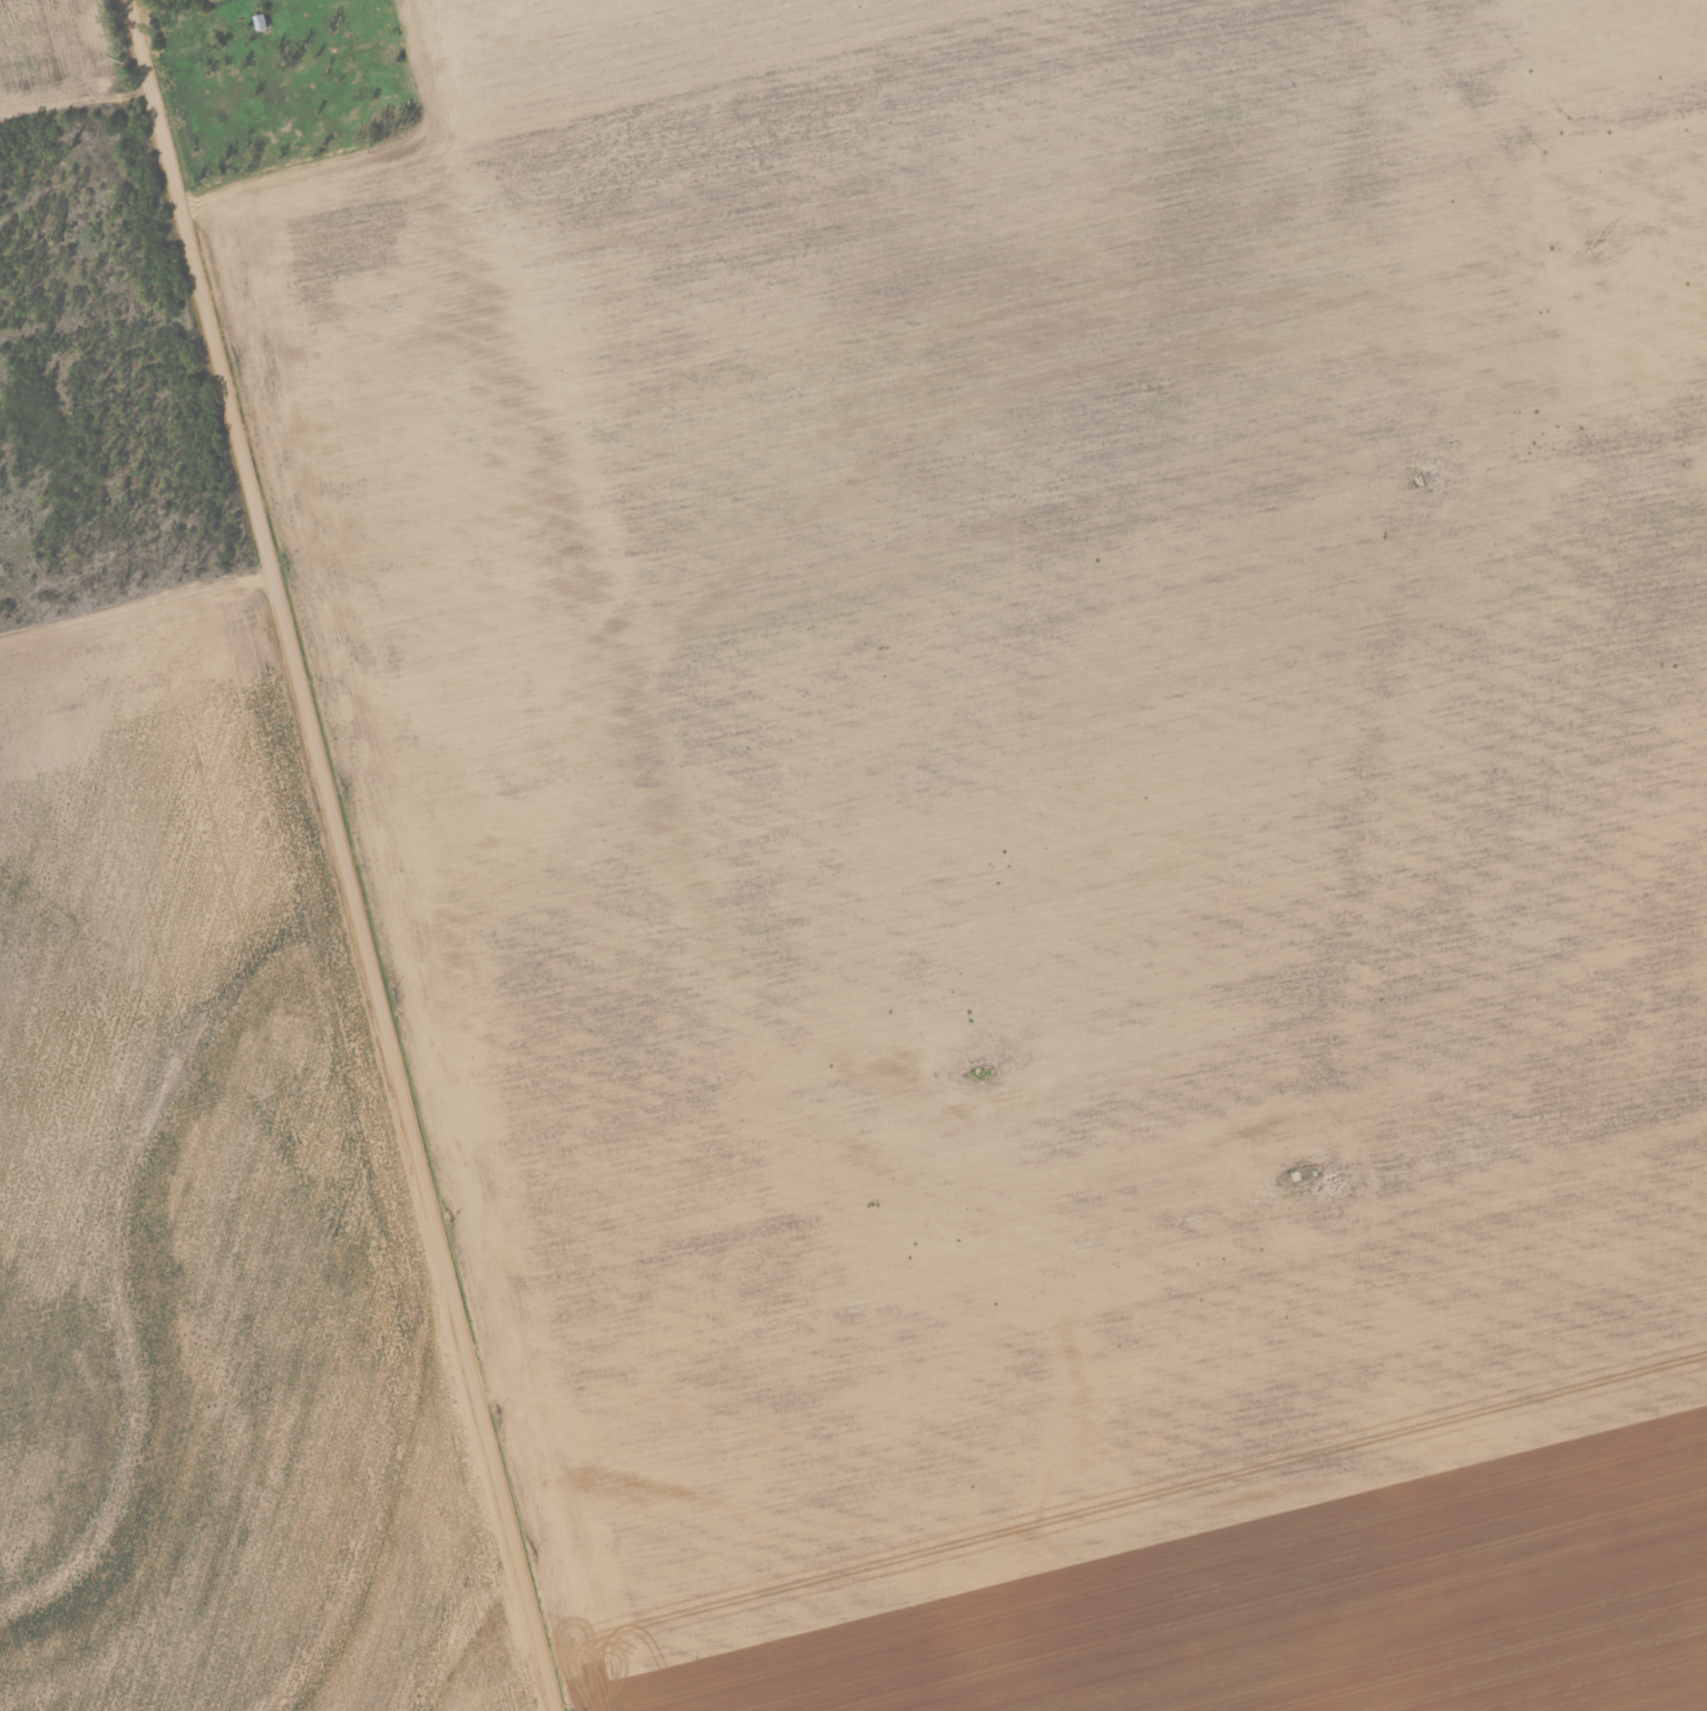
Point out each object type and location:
road: (136, 52)
road: (77, 117)
power tower: (1594, 248)
road: (352, 908)

